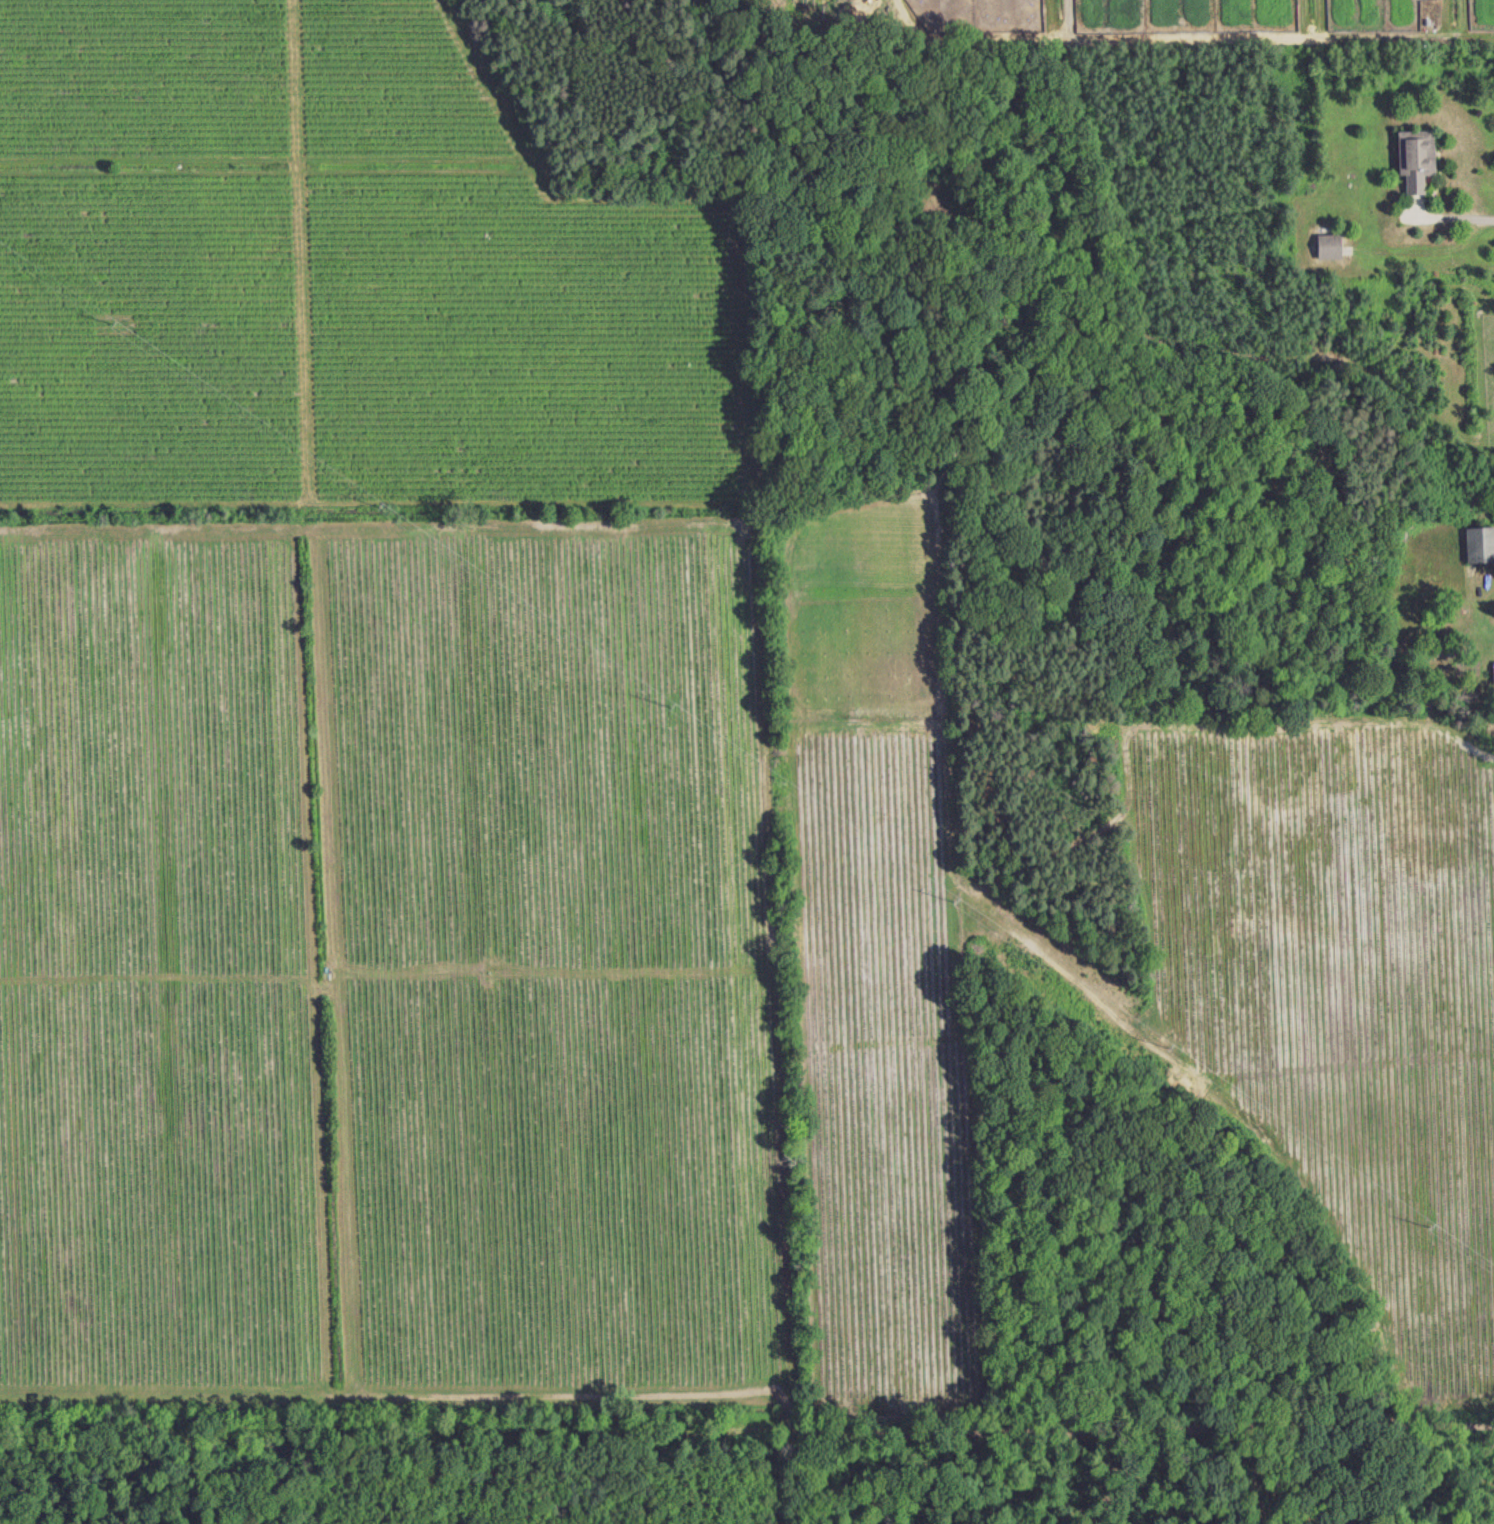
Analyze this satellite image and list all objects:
building: (1415, 159)
road: (1454, 216)
building: (1328, 247)
building: (1479, 545)
building: (1493, 680)

